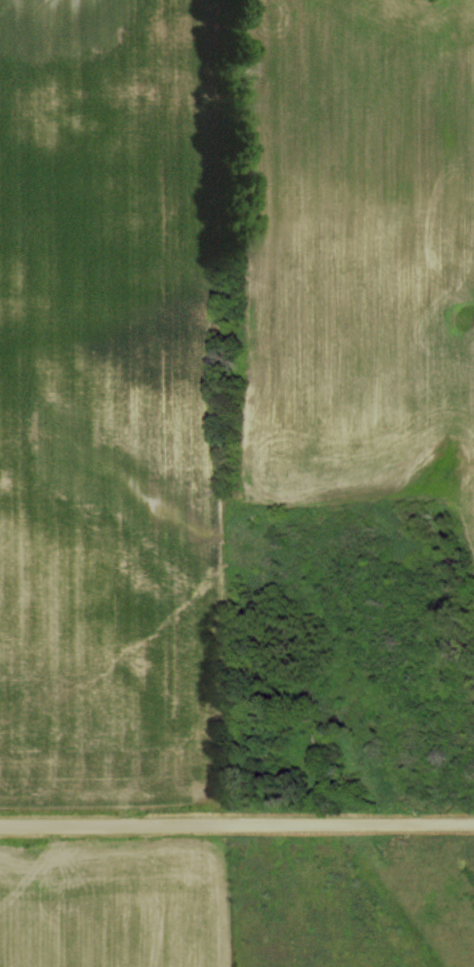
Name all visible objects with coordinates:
road: (237, 826)

